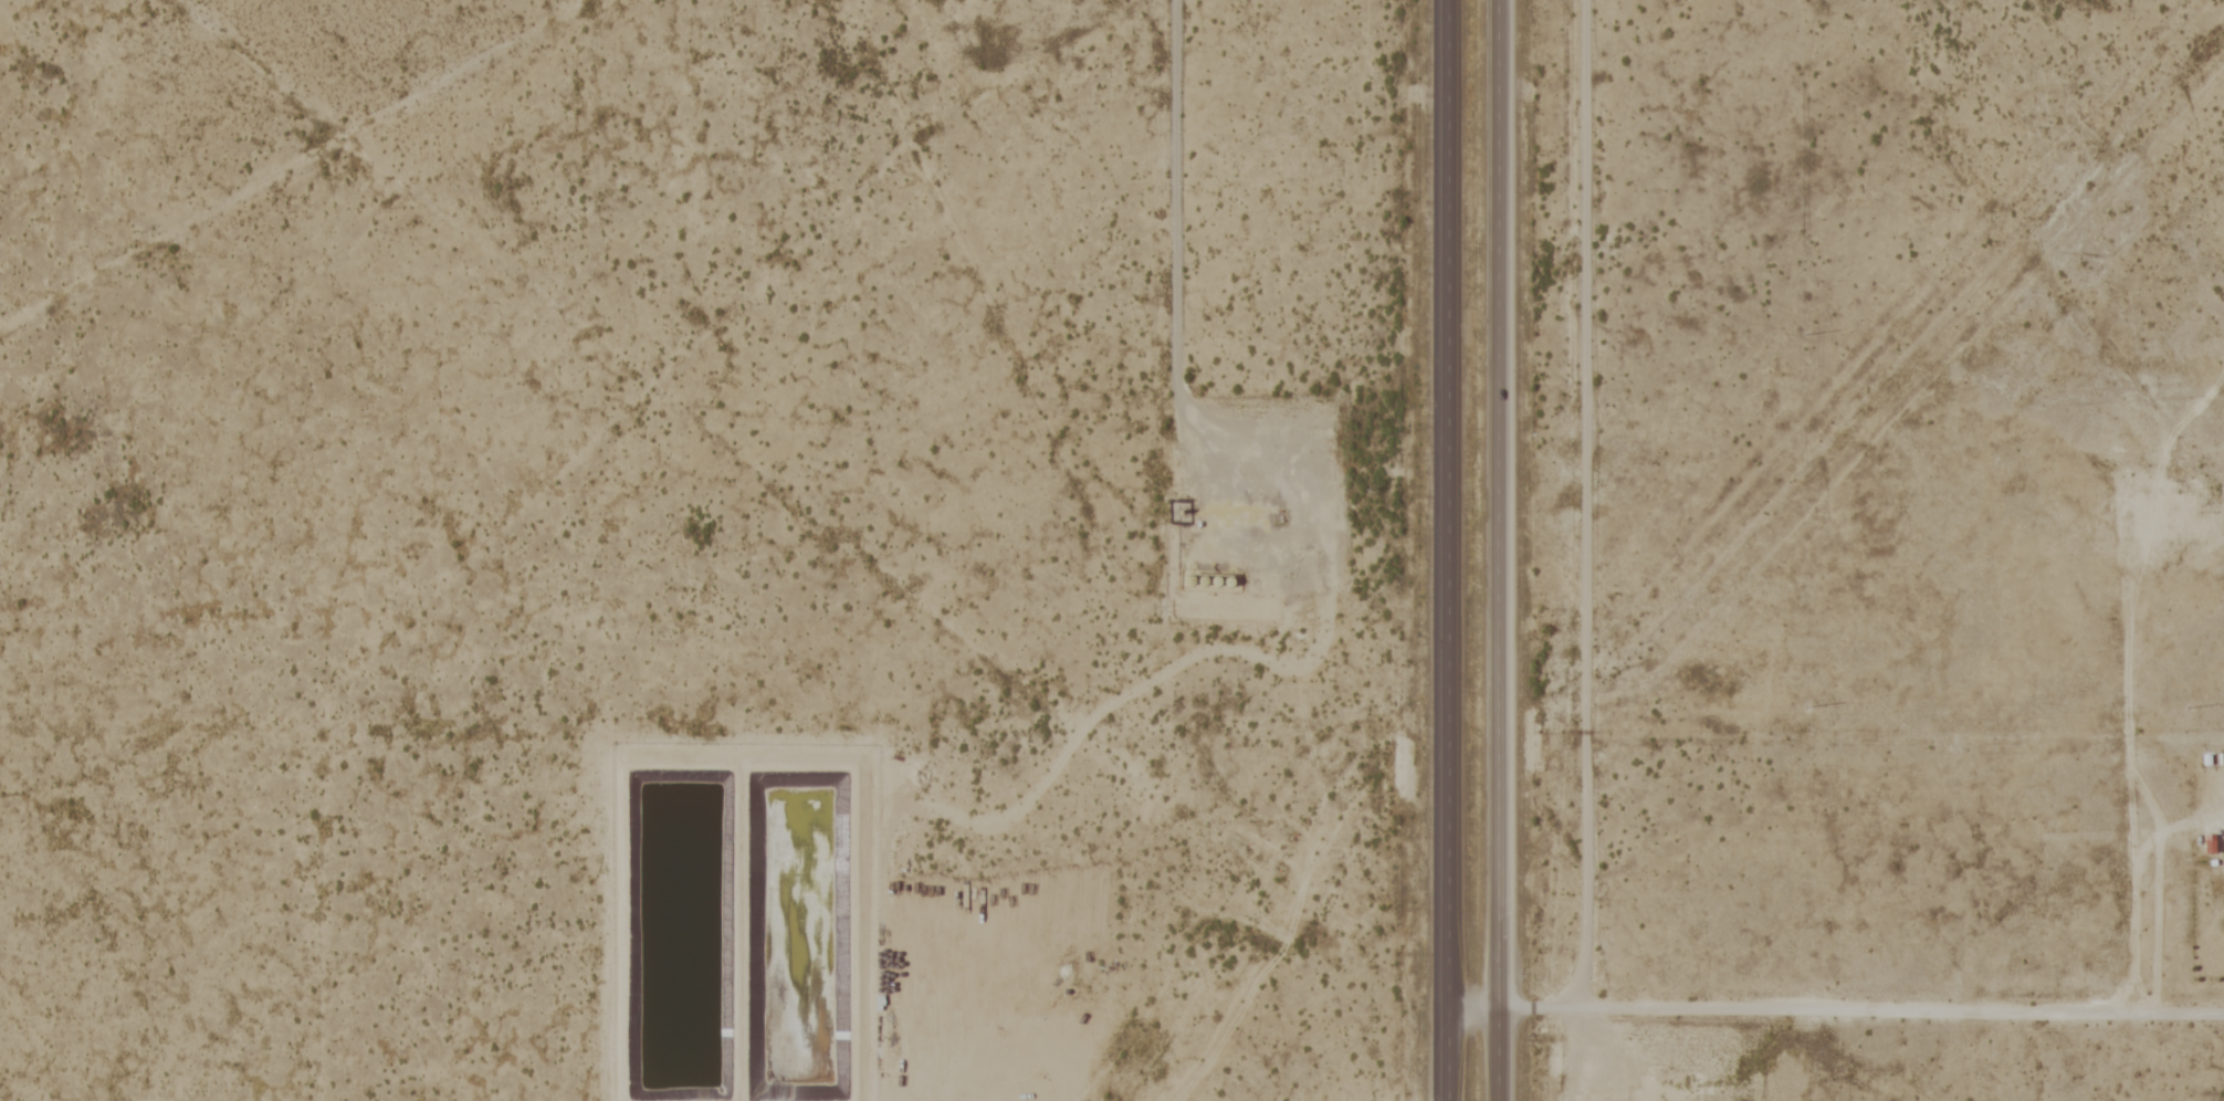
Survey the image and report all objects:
road: (1166, 316)
road: (1573, 501)
road: (1458, 550)
road: (1508, 550)
road: (1482, 1000)
road: (1865, 1008)
road: (1616, 1051)

